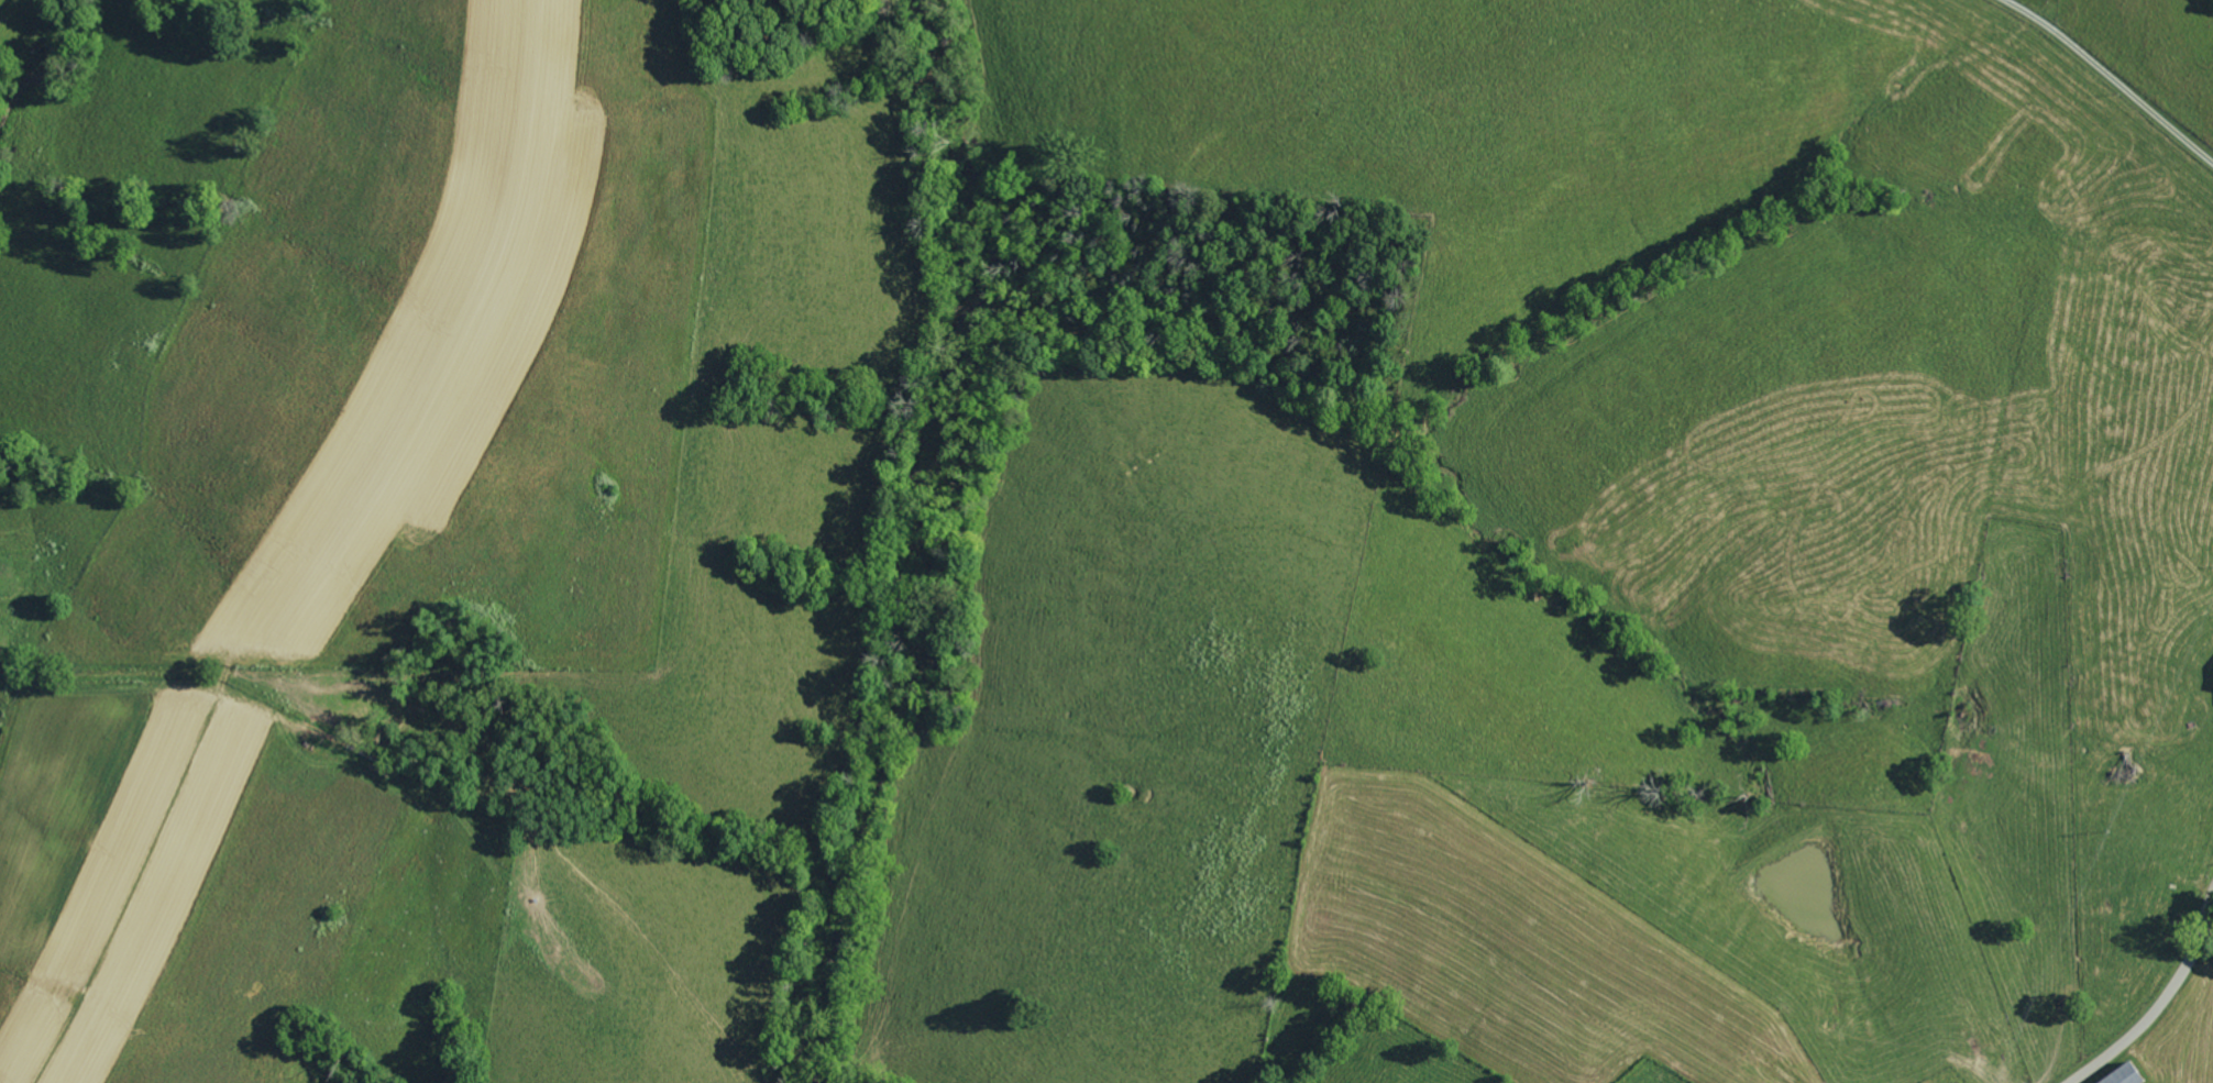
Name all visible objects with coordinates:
road: (2199, 3)
road: (2102, 84)
road: (2157, 981)
building: (2127, 1074)

